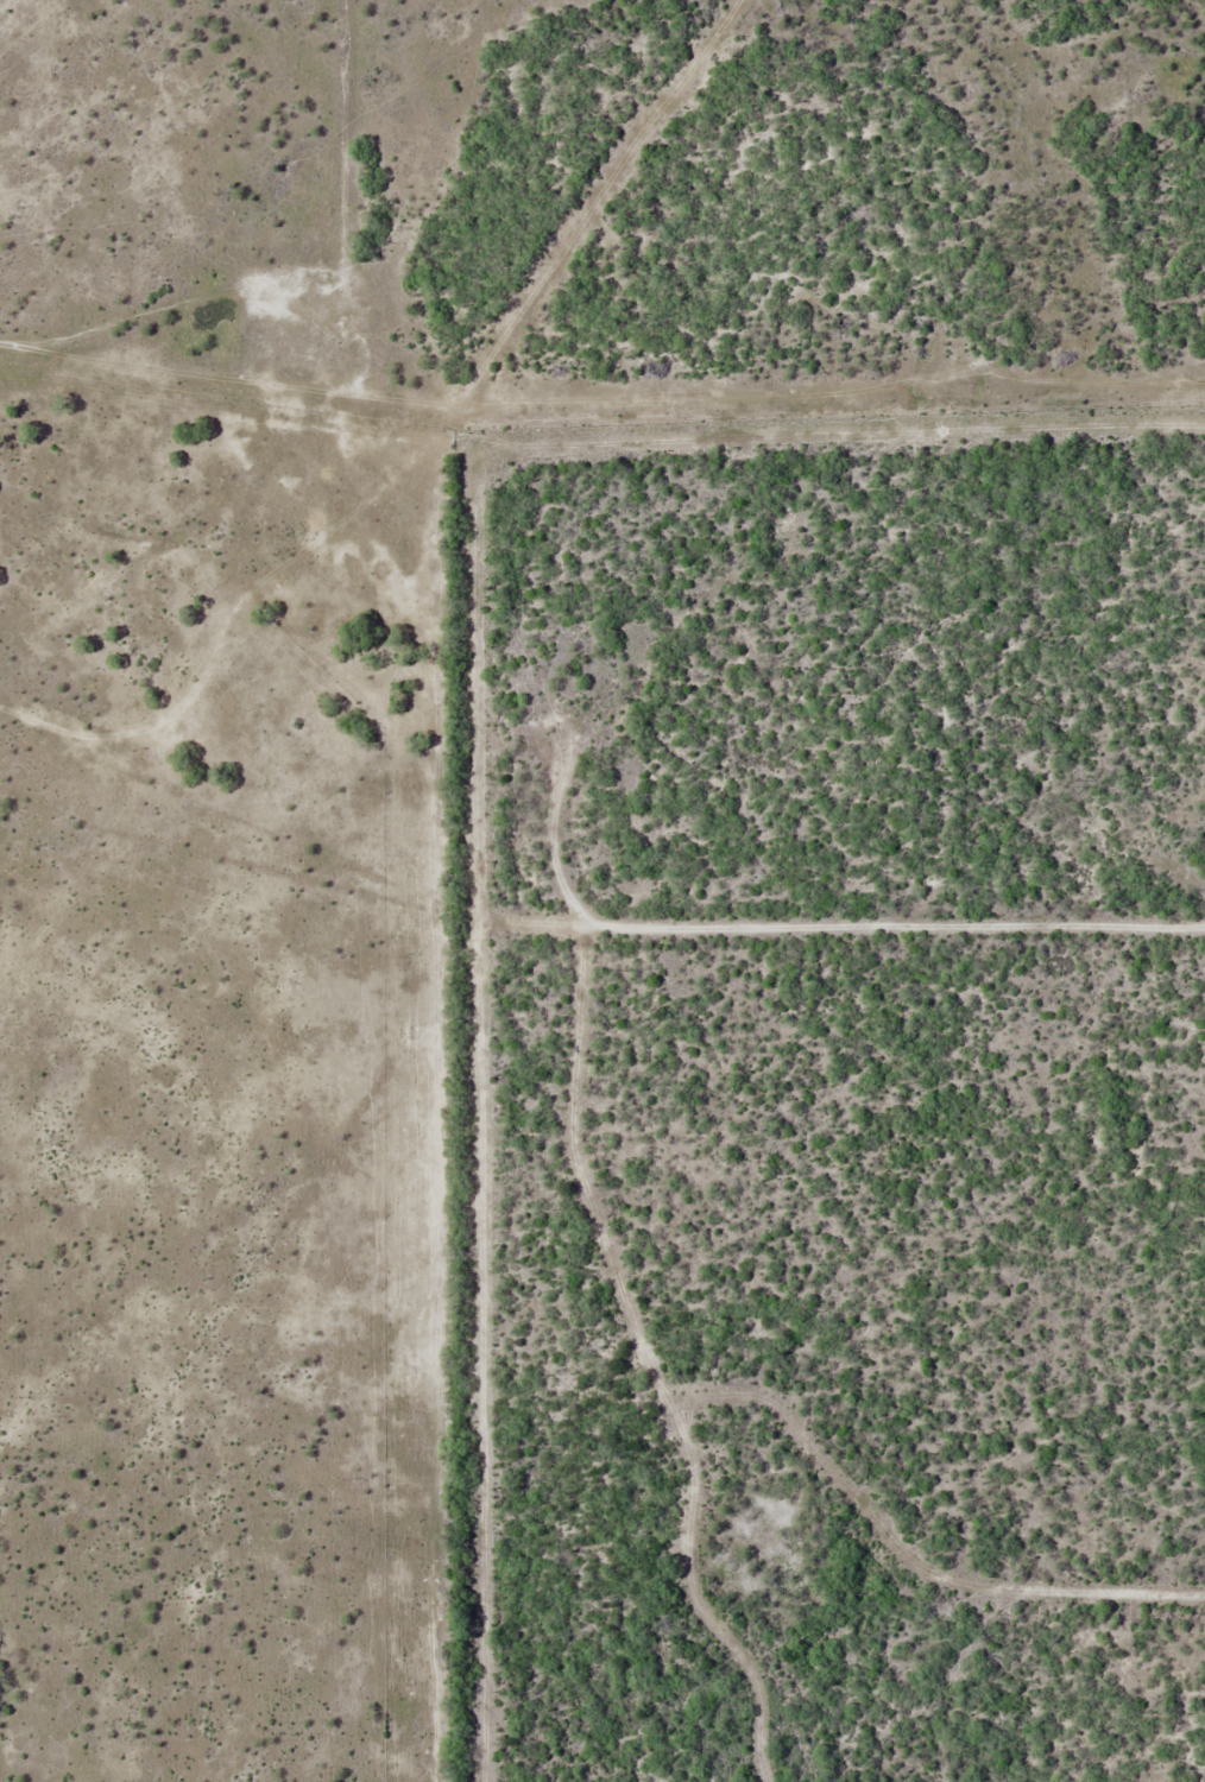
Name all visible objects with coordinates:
road: (869, 921)

